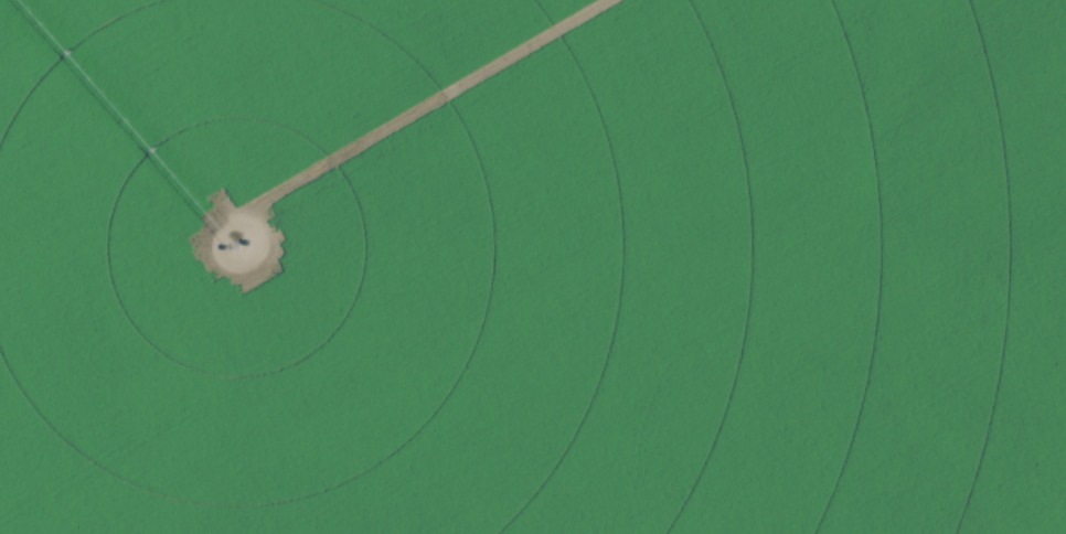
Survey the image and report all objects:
crop: (533, 267)

